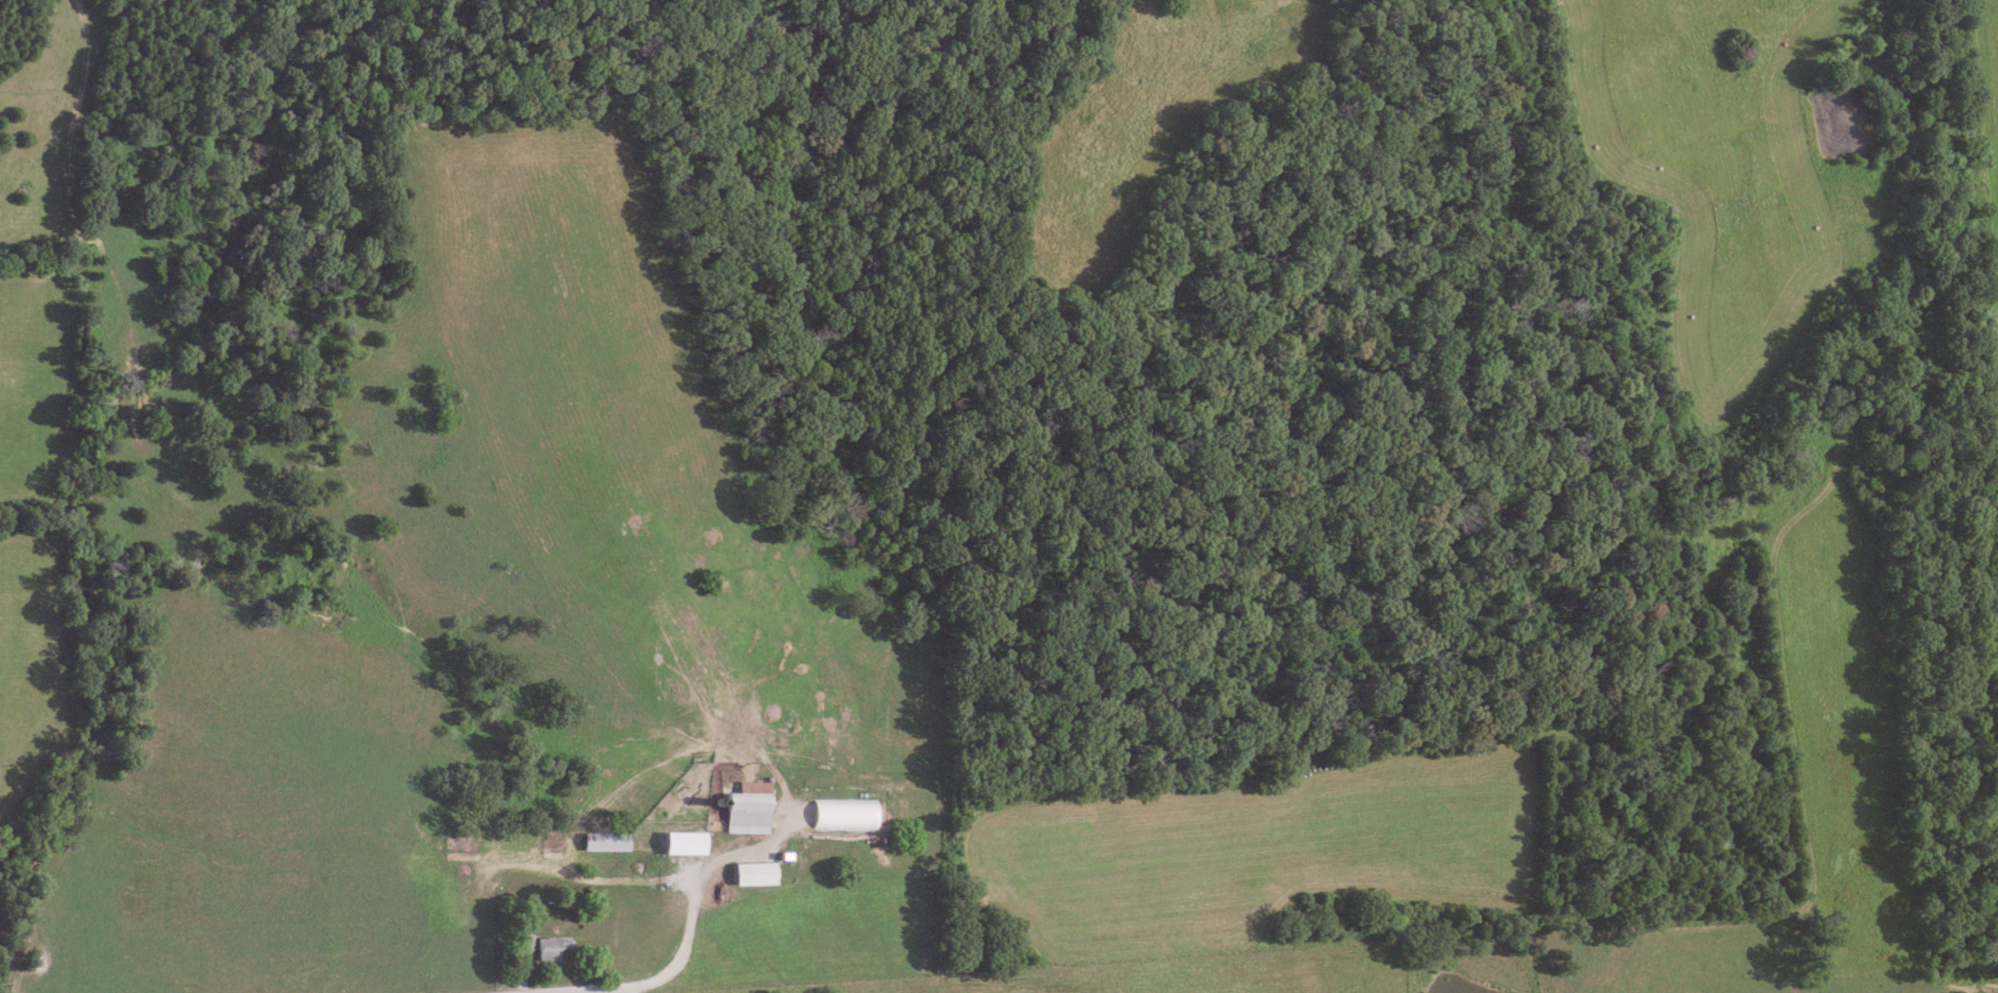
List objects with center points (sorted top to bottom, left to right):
building: (891, 806)
building: (744, 812)
building: (603, 842)
building: (680, 844)
building: (749, 874)
road: (694, 890)
building: (522, 942)
building: (547, 948)
road: (589, 990)

